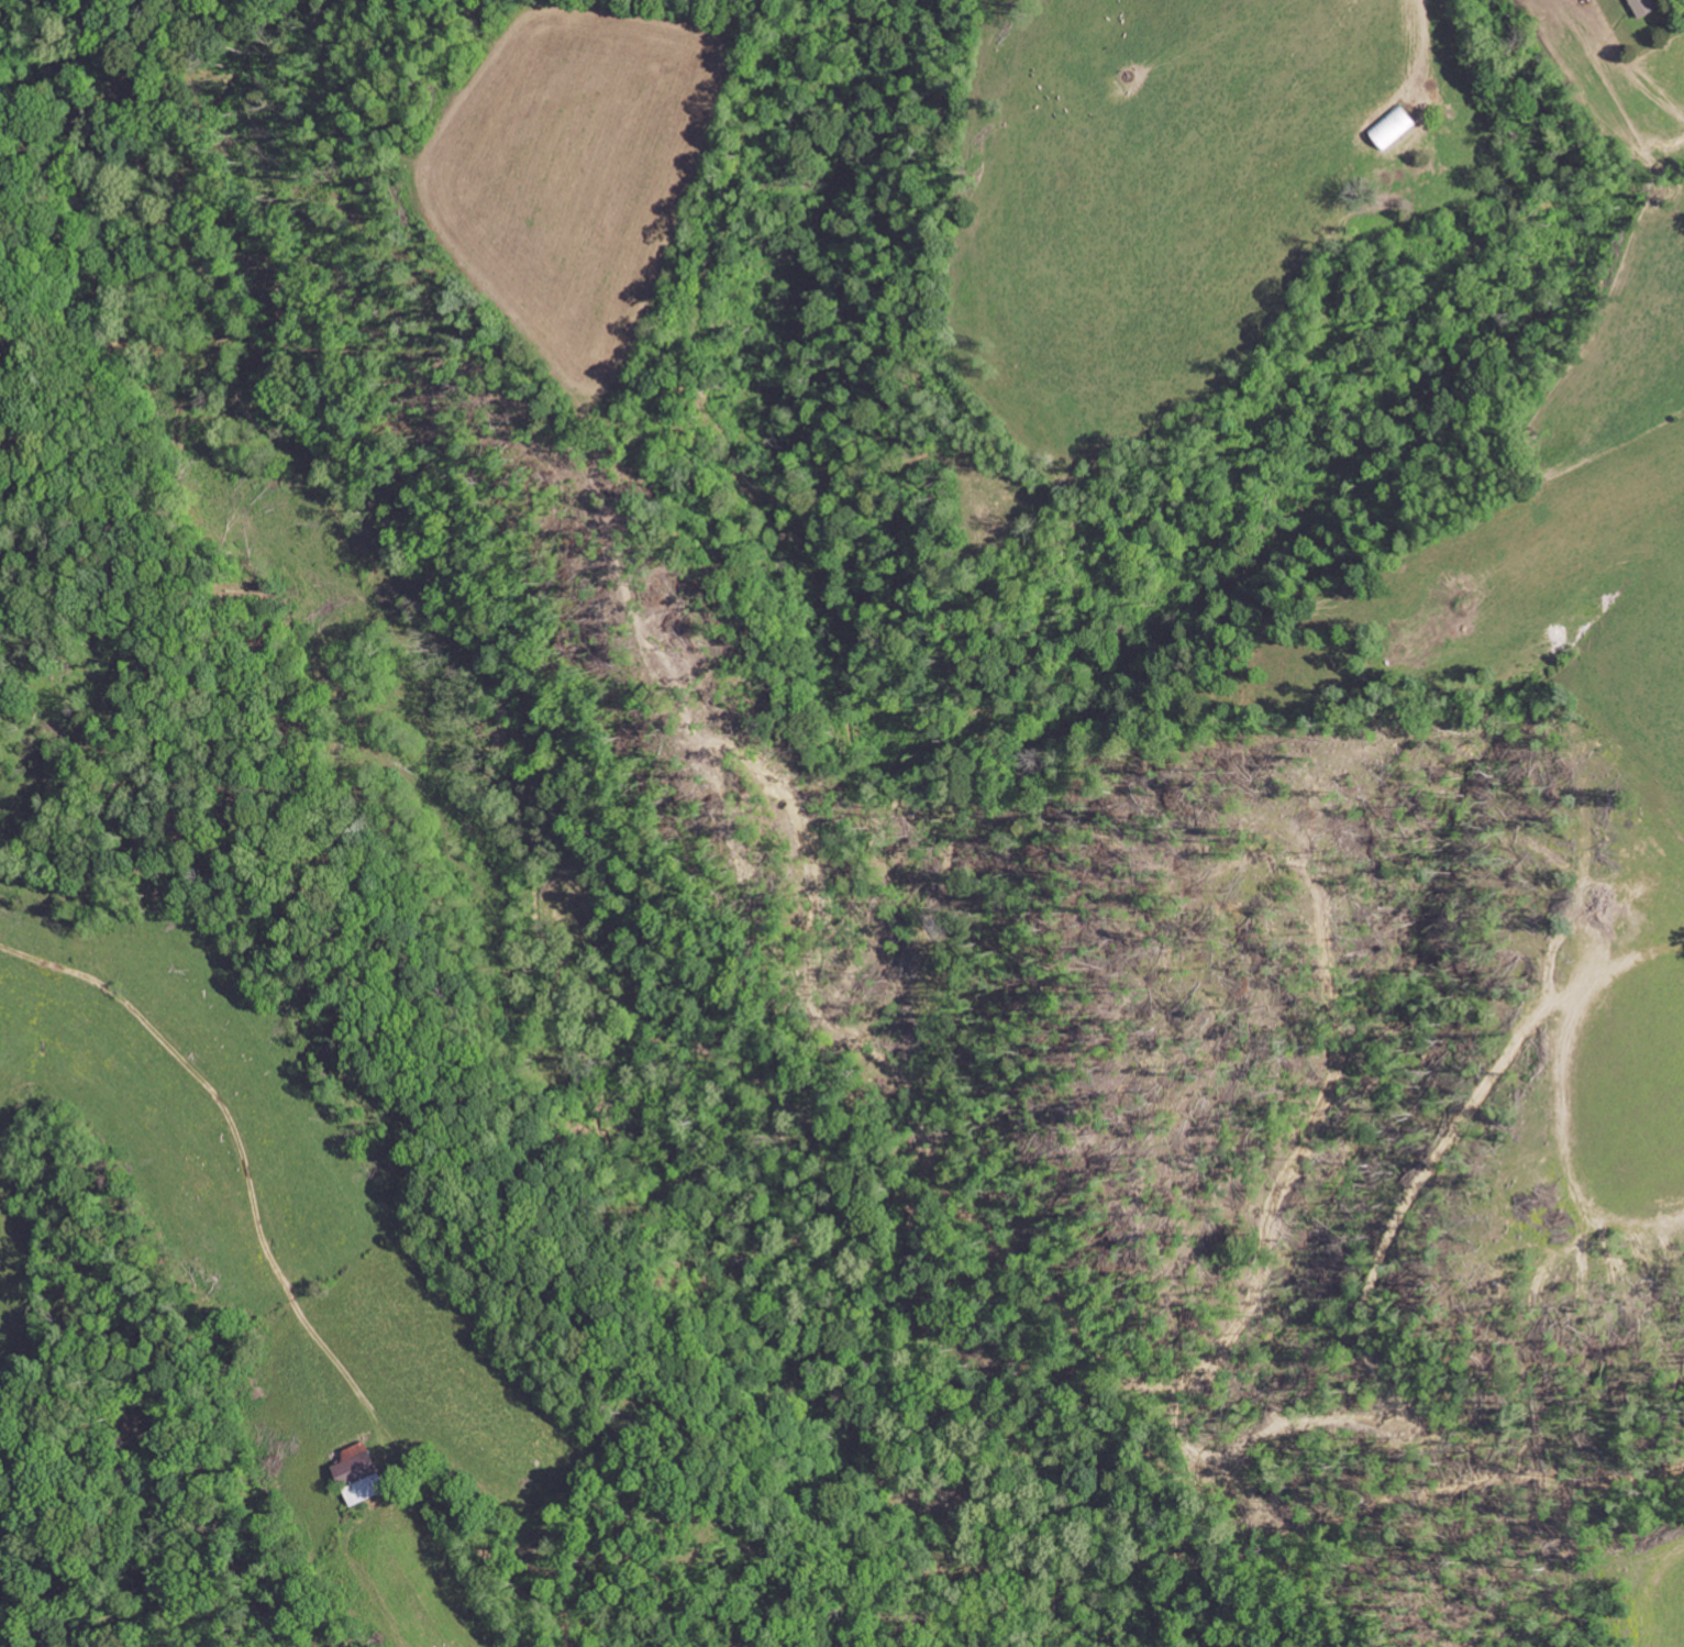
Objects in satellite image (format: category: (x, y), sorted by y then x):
building: (1644, 7)
building: (362, 1472)

